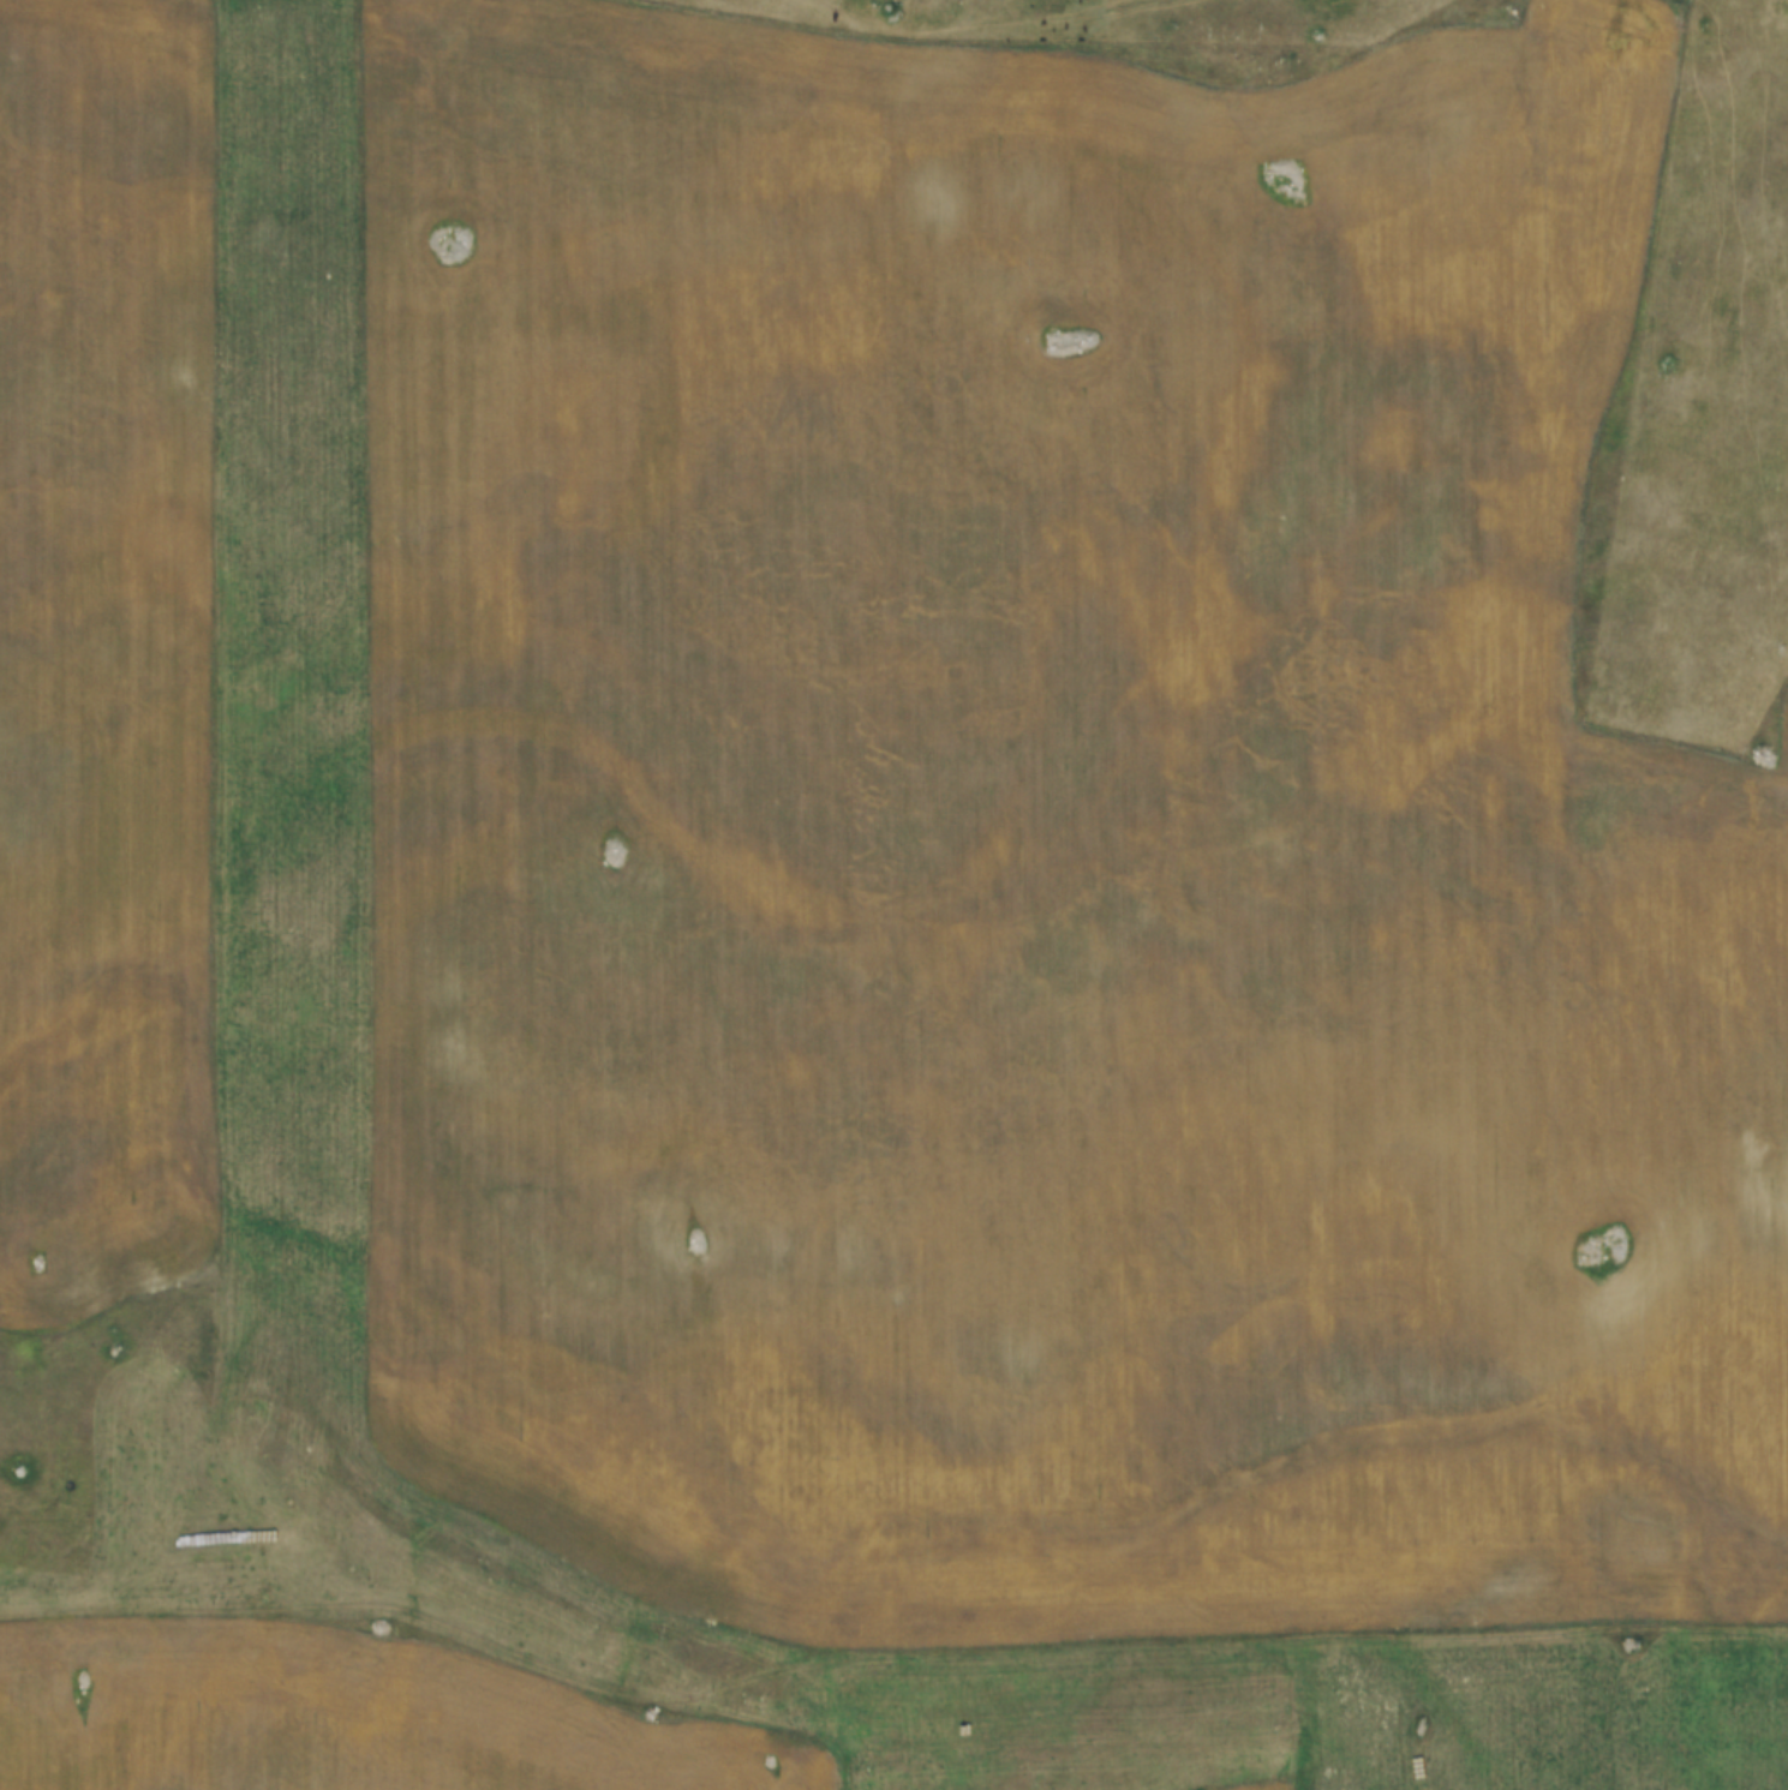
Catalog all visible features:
road: (883, 1664)

